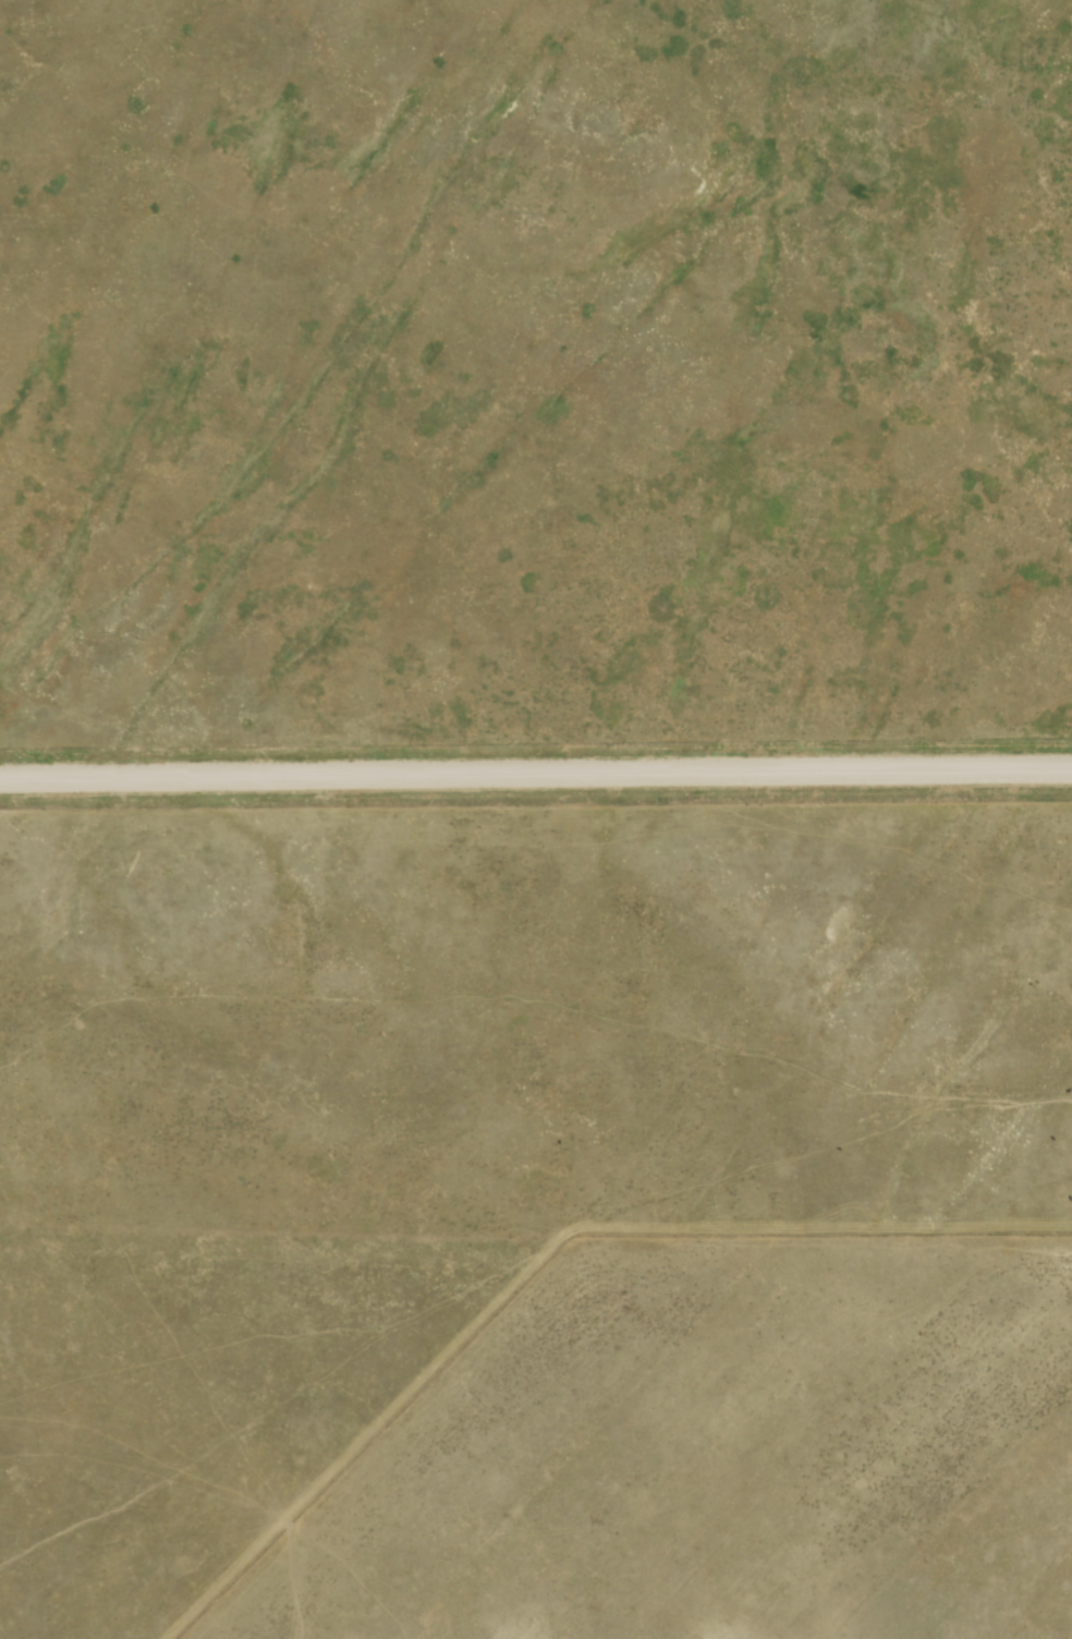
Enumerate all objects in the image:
road: (536, 778)

